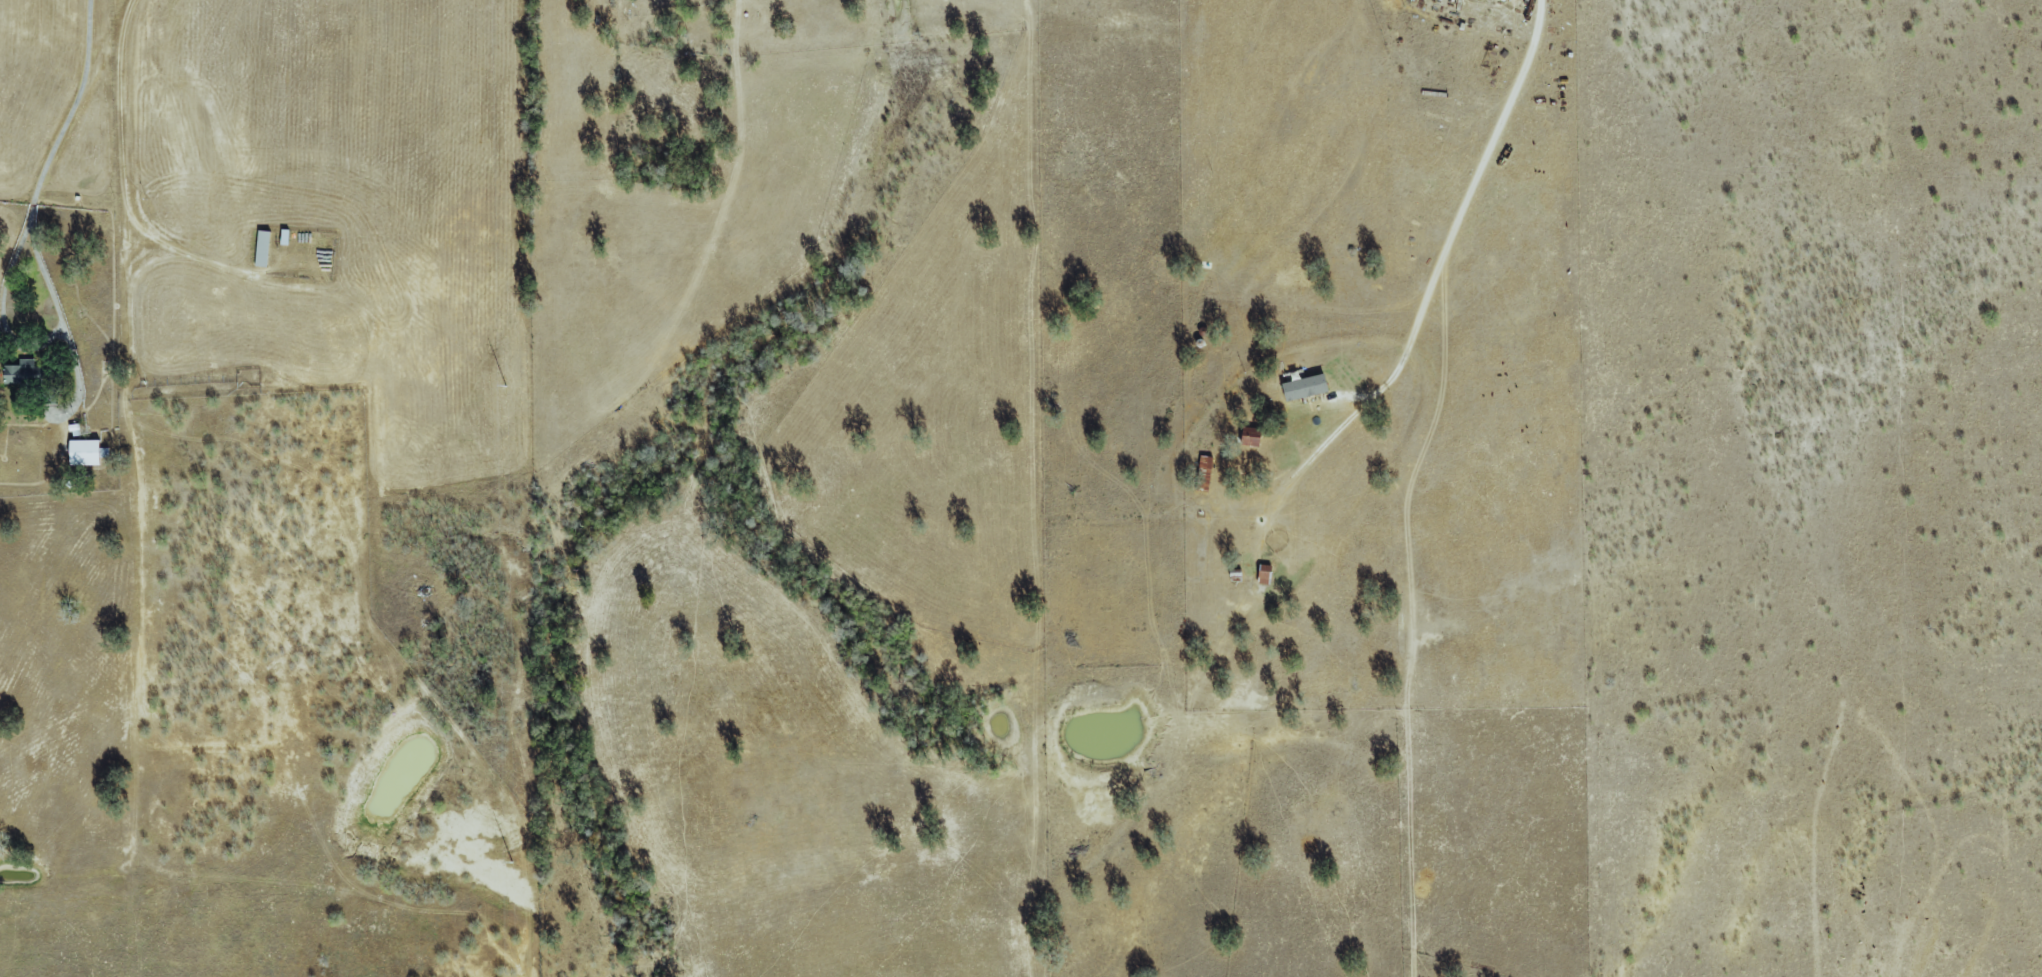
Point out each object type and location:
road: (55, 152)
building: (261, 248)
road: (1443, 248)
building: (20, 371)
power tower: (505, 387)
building: (1303, 387)
building: (1249, 436)
building: (85, 451)
building: (1204, 473)
power tower: (511, 863)

